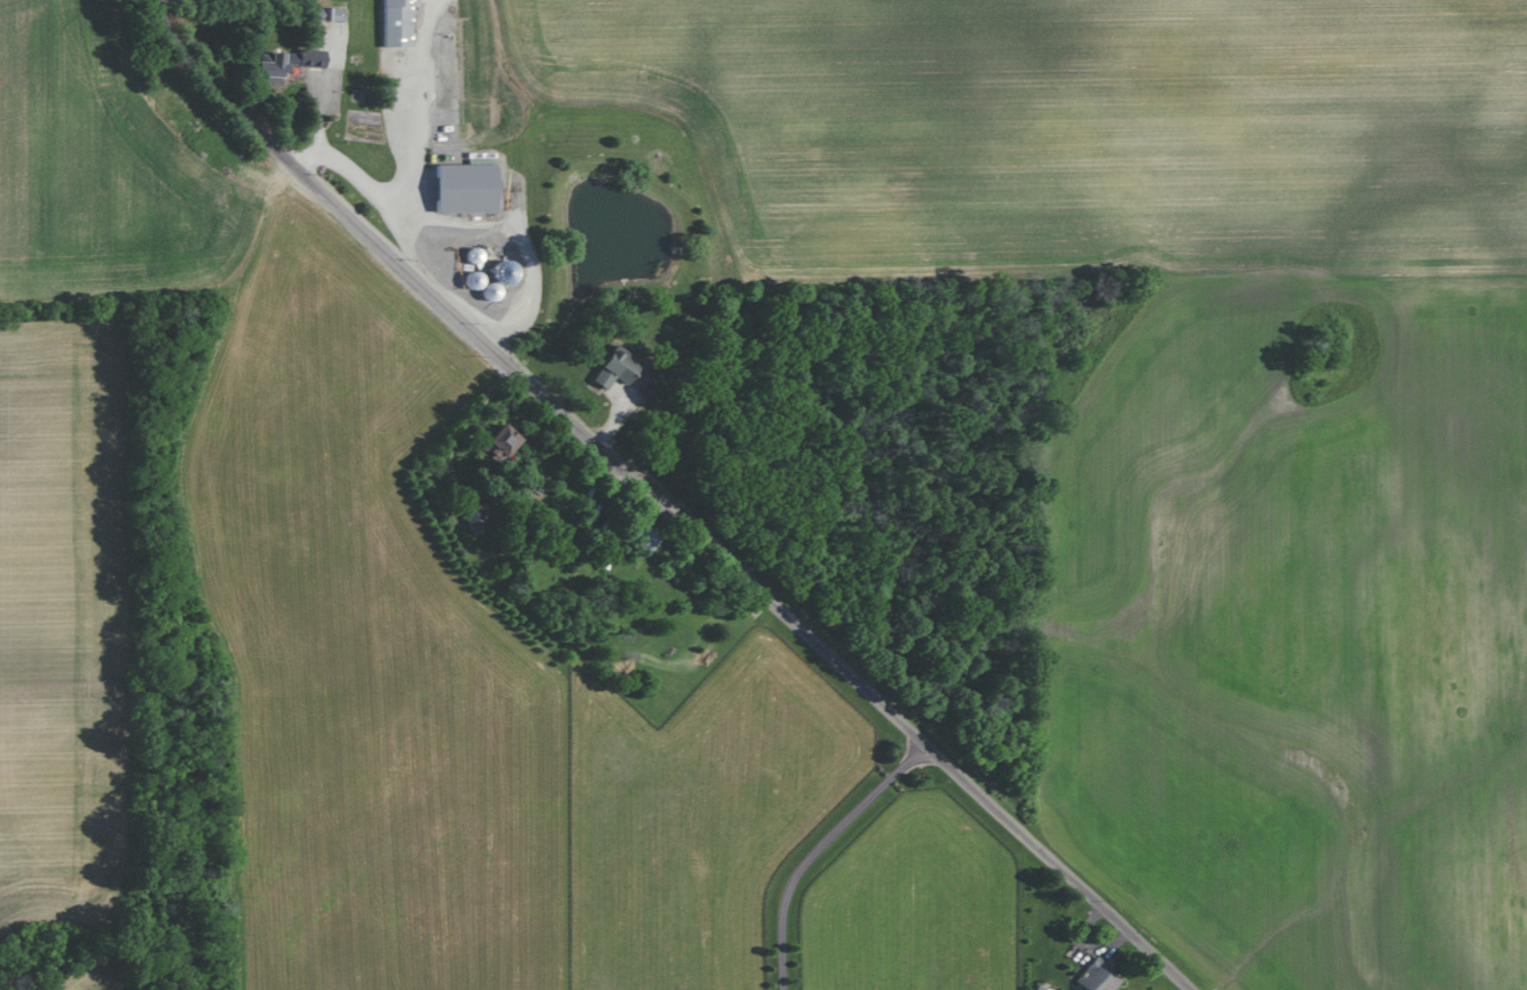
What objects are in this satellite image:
building: (328, 13)
building: (398, 22)
building: (286, 63)
building: (465, 187)
road: (374, 190)
road: (522, 239)
building: (499, 280)
building: (616, 367)
road: (459, 424)
building: (501, 441)
road: (665, 503)
building: (479, 517)
building: (644, 536)
road: (818, 852)
building: (1097, 977)
building: (1042, 988)

